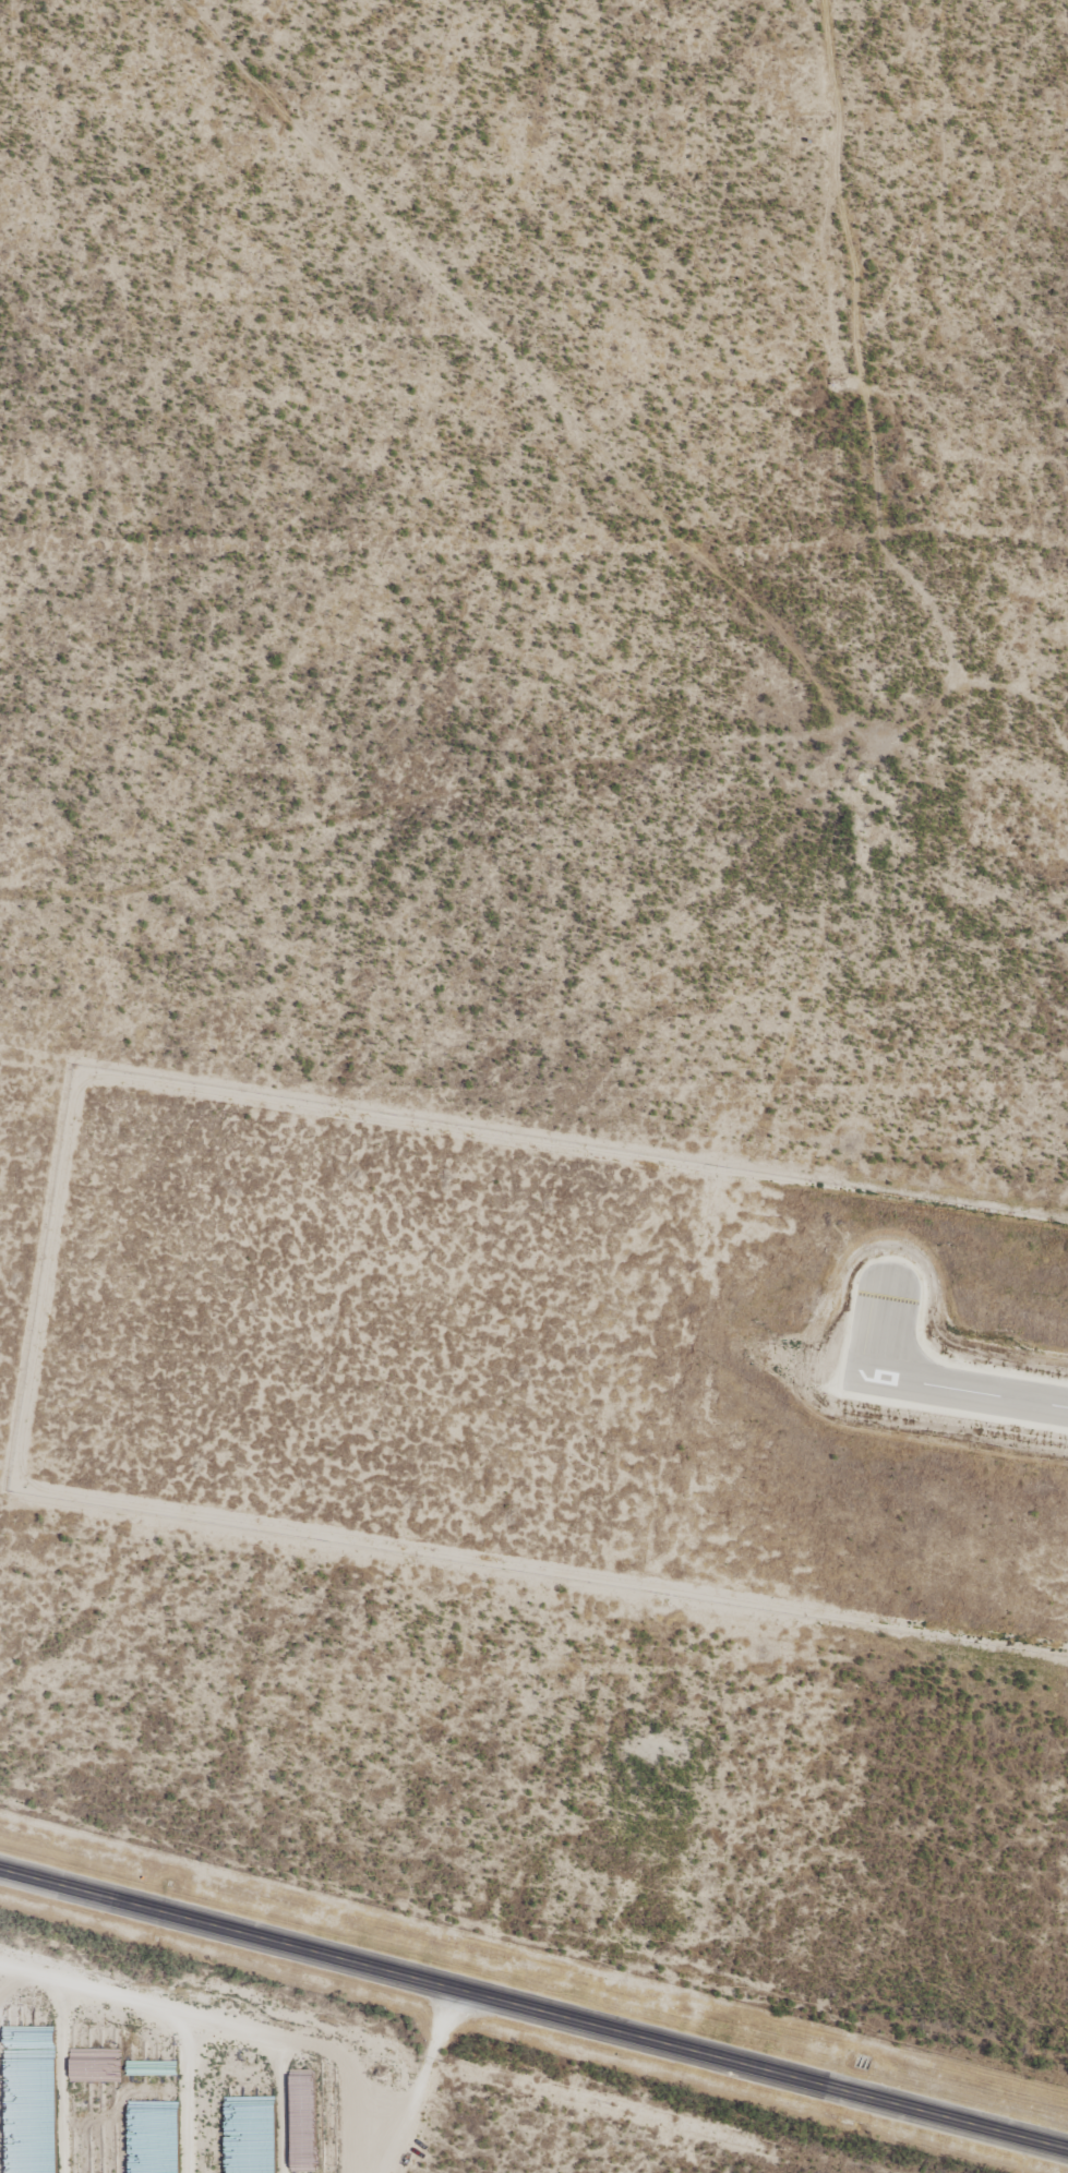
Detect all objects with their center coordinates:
road: (878, 388)
airport: (532, 1343)
airport runway: (958, 1381)
road: (533, 2016)

